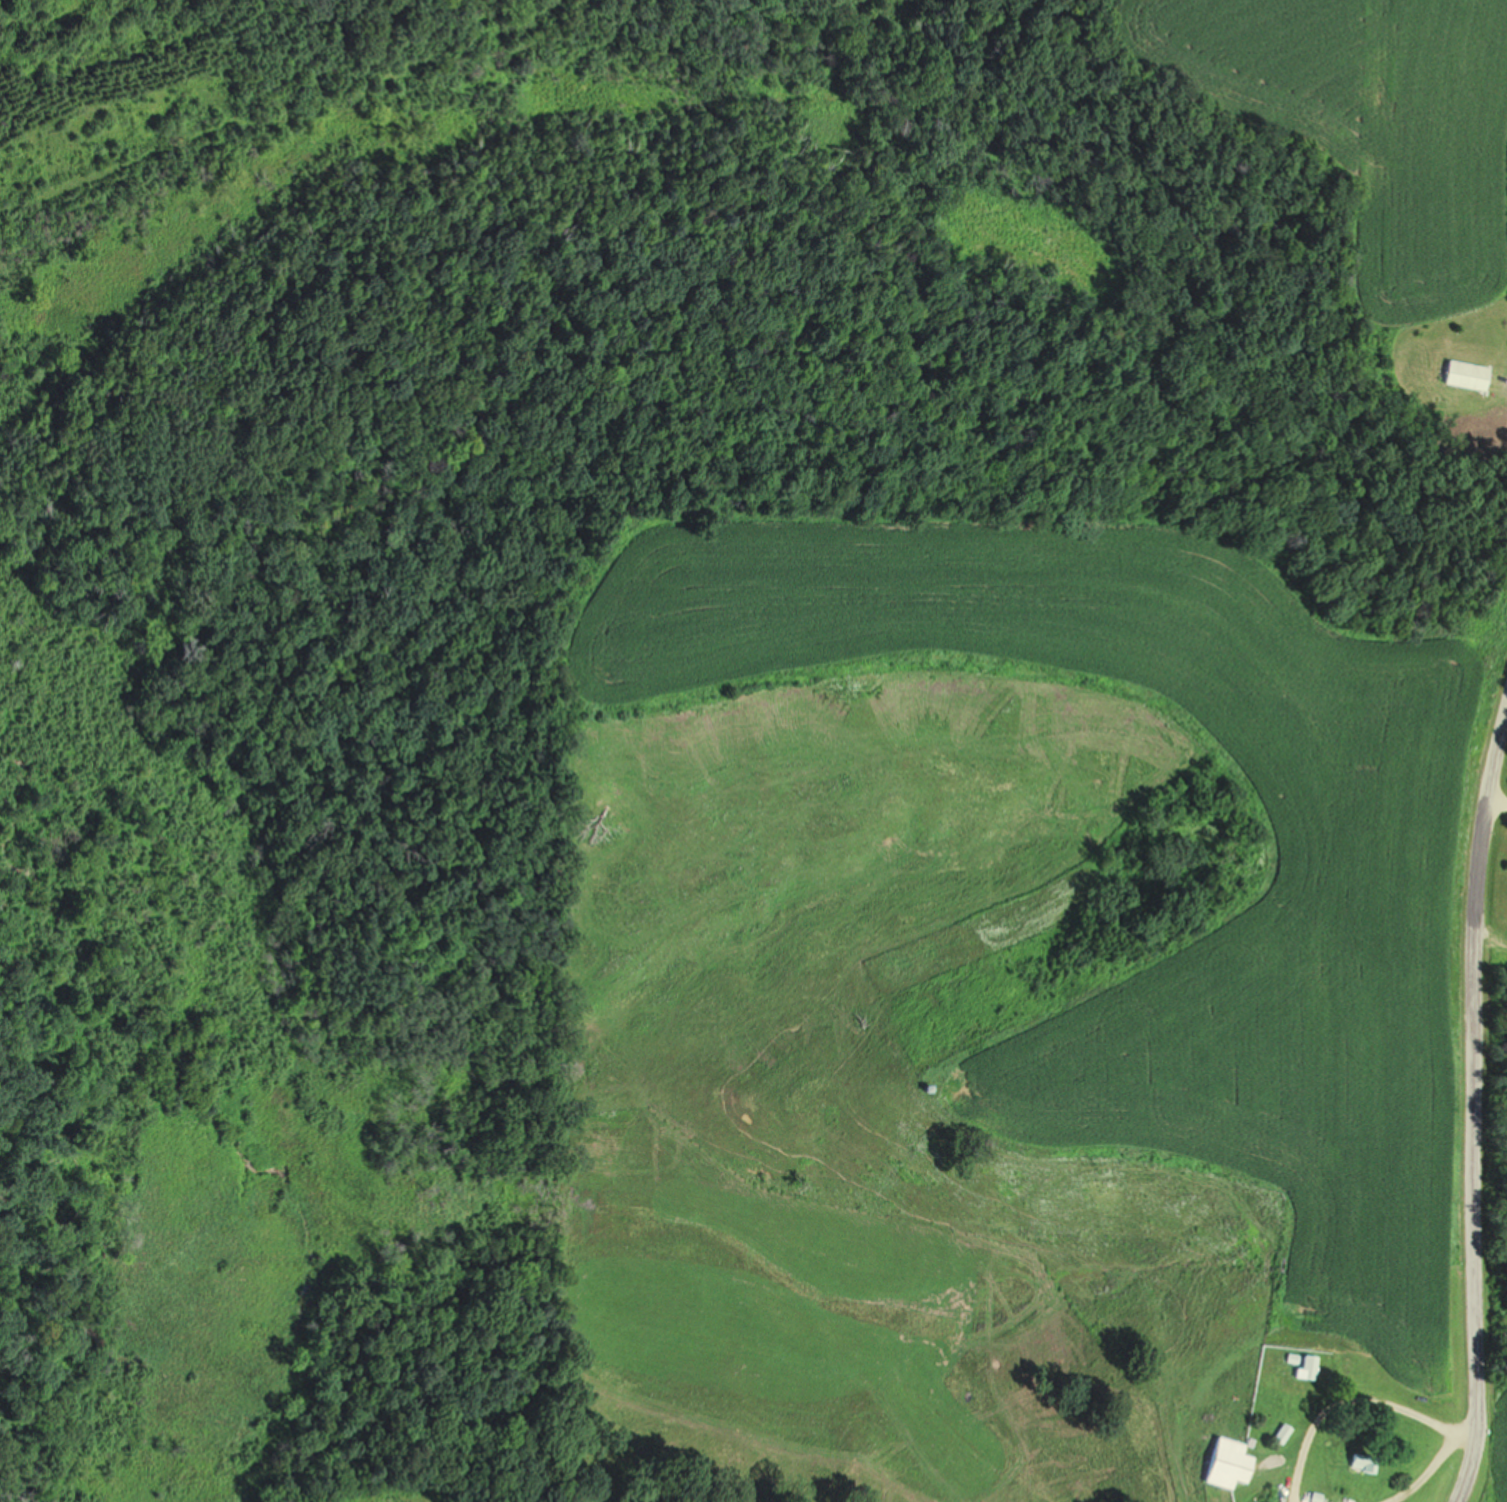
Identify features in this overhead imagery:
building: (1462, 375)
road: (1495, 944)
road: (1480, 1111)
building: (1307, 1366)
road: (1387, 1406)
road: (1469, 1438)
building: (1224, 1467)

